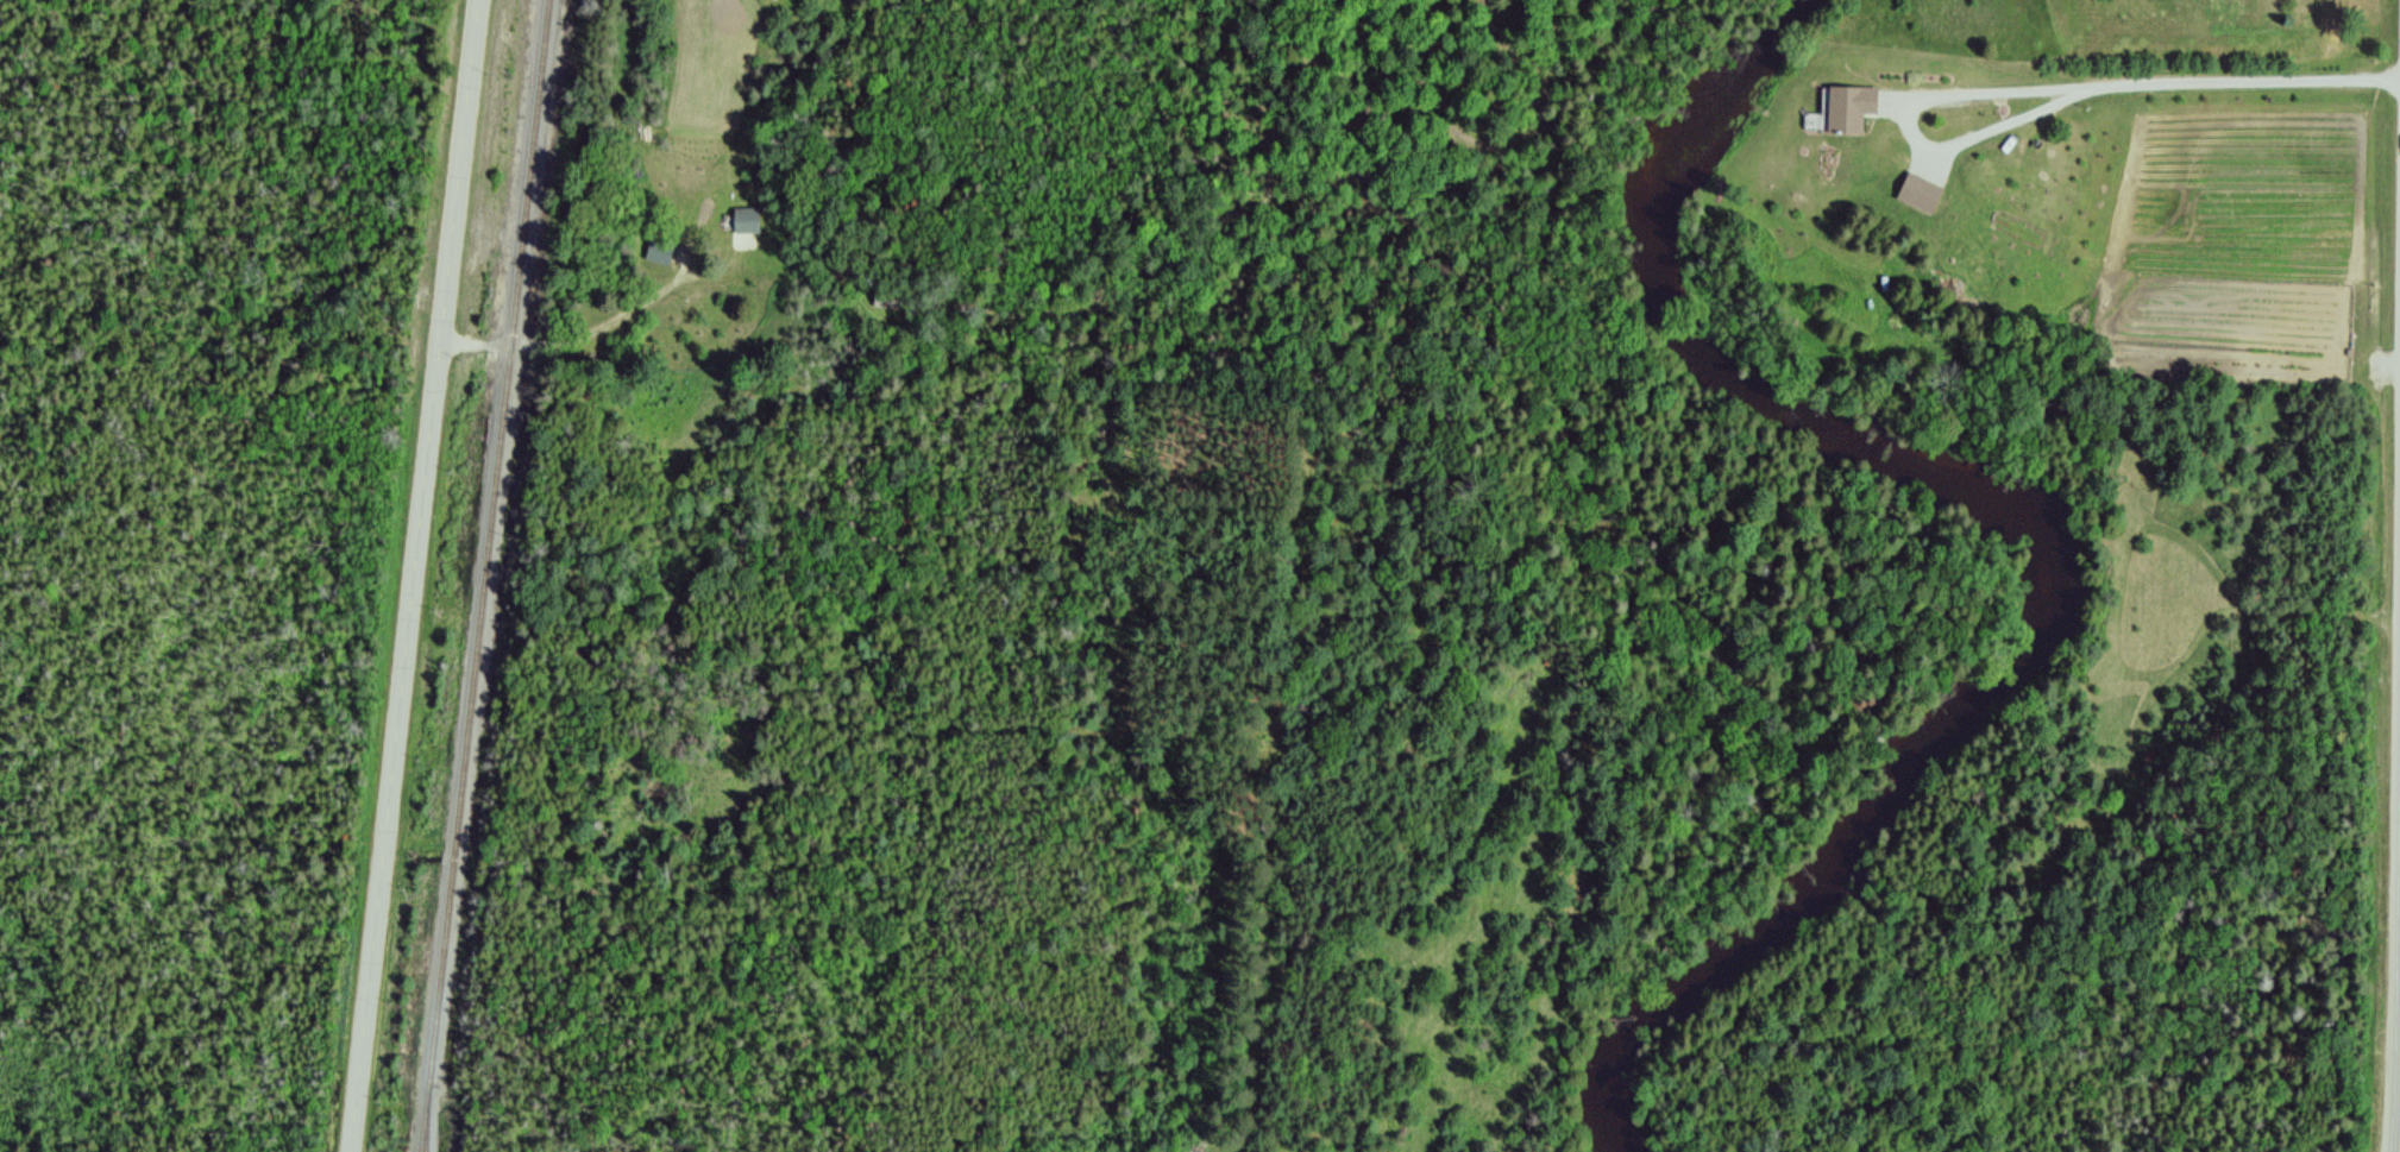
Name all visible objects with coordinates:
road: (2241, 78)
building: (1848, 100)
road: (1902, 124)
building: (1916, 187)
building: (744, 221)
road: (585, 338)
river: (1889, 435)
road: (416, 575)
railway: (491, 575)
river: (1691, 977)
road: (2398, 1115)
railway: (429, 1128)

